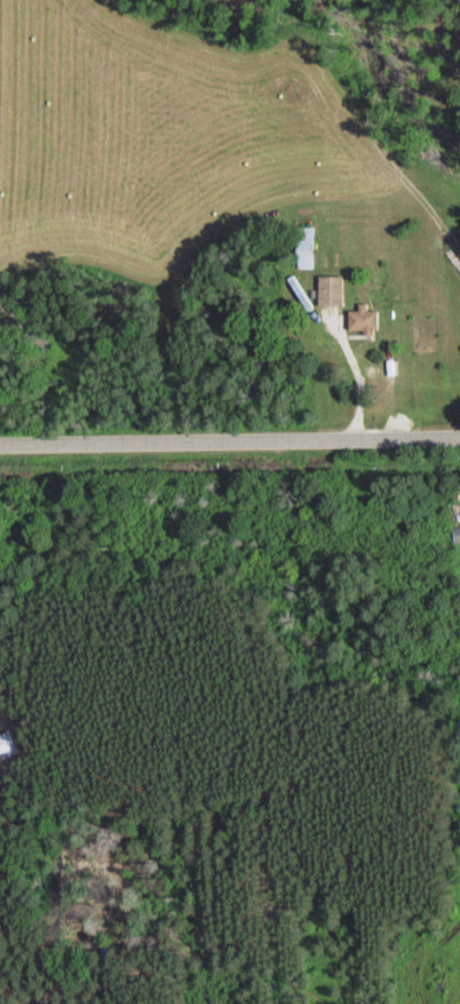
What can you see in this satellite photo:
building: (303, 248)
building: (328, 291)
building: (360, 320)
road: (230, 447)
building: (456, 535)

